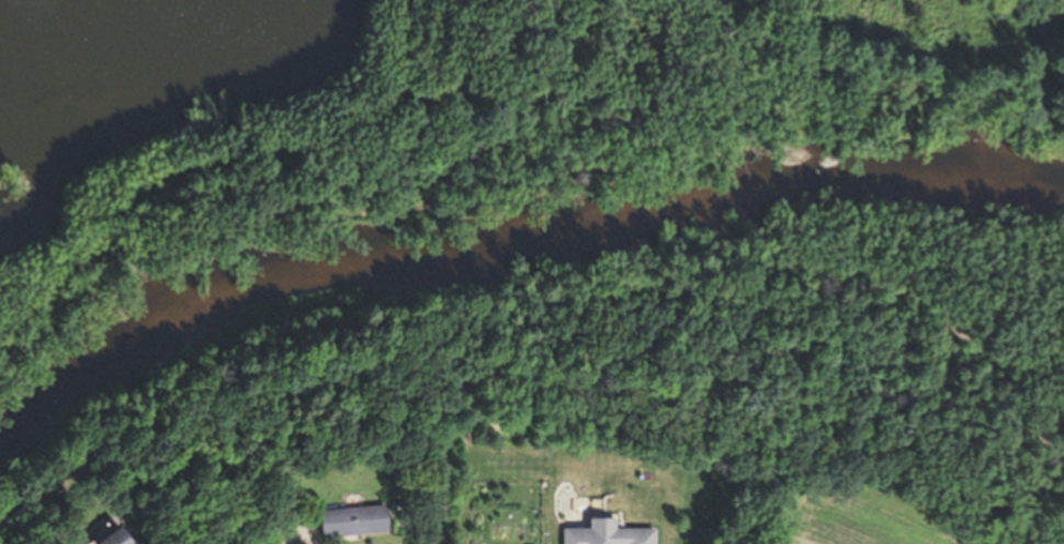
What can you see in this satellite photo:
quarry: (377, 116)
river: (528, 261)
building: (350, 521)
building: (604, 536)
building: (114, 539)

